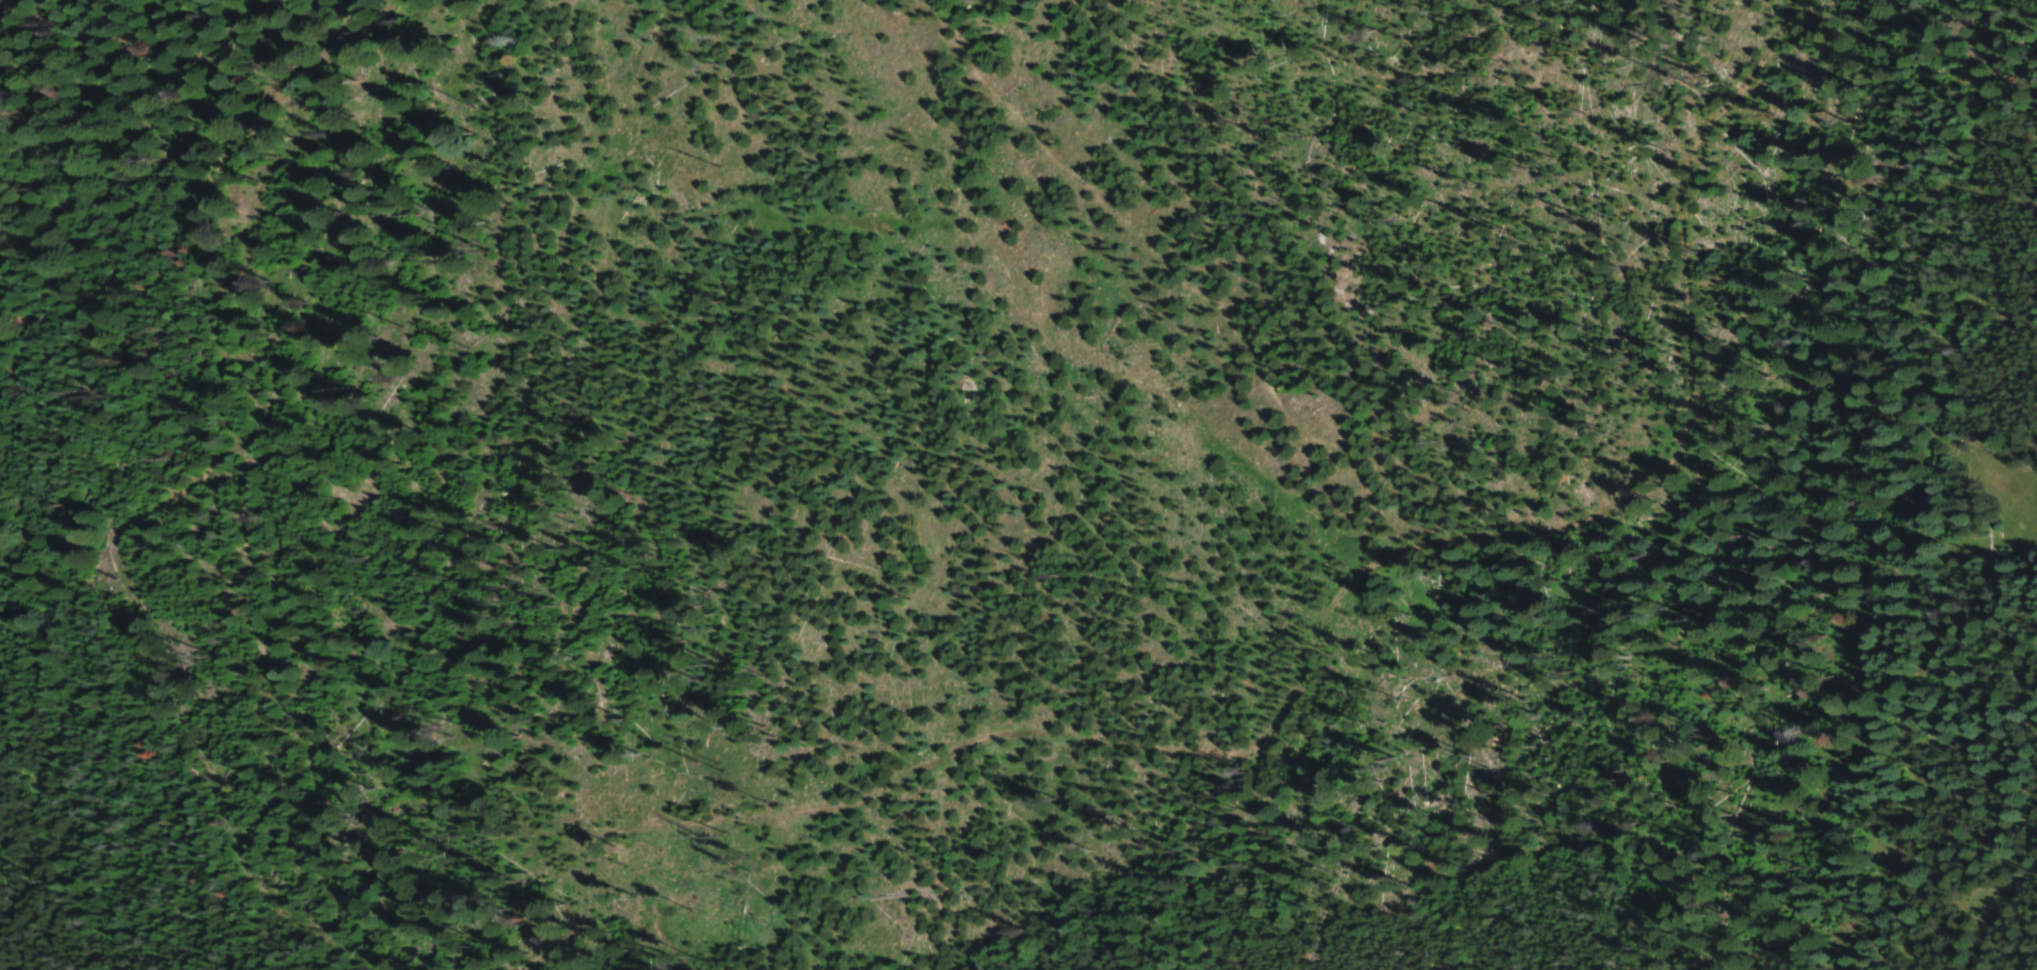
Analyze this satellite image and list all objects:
road: (1998, 921)

